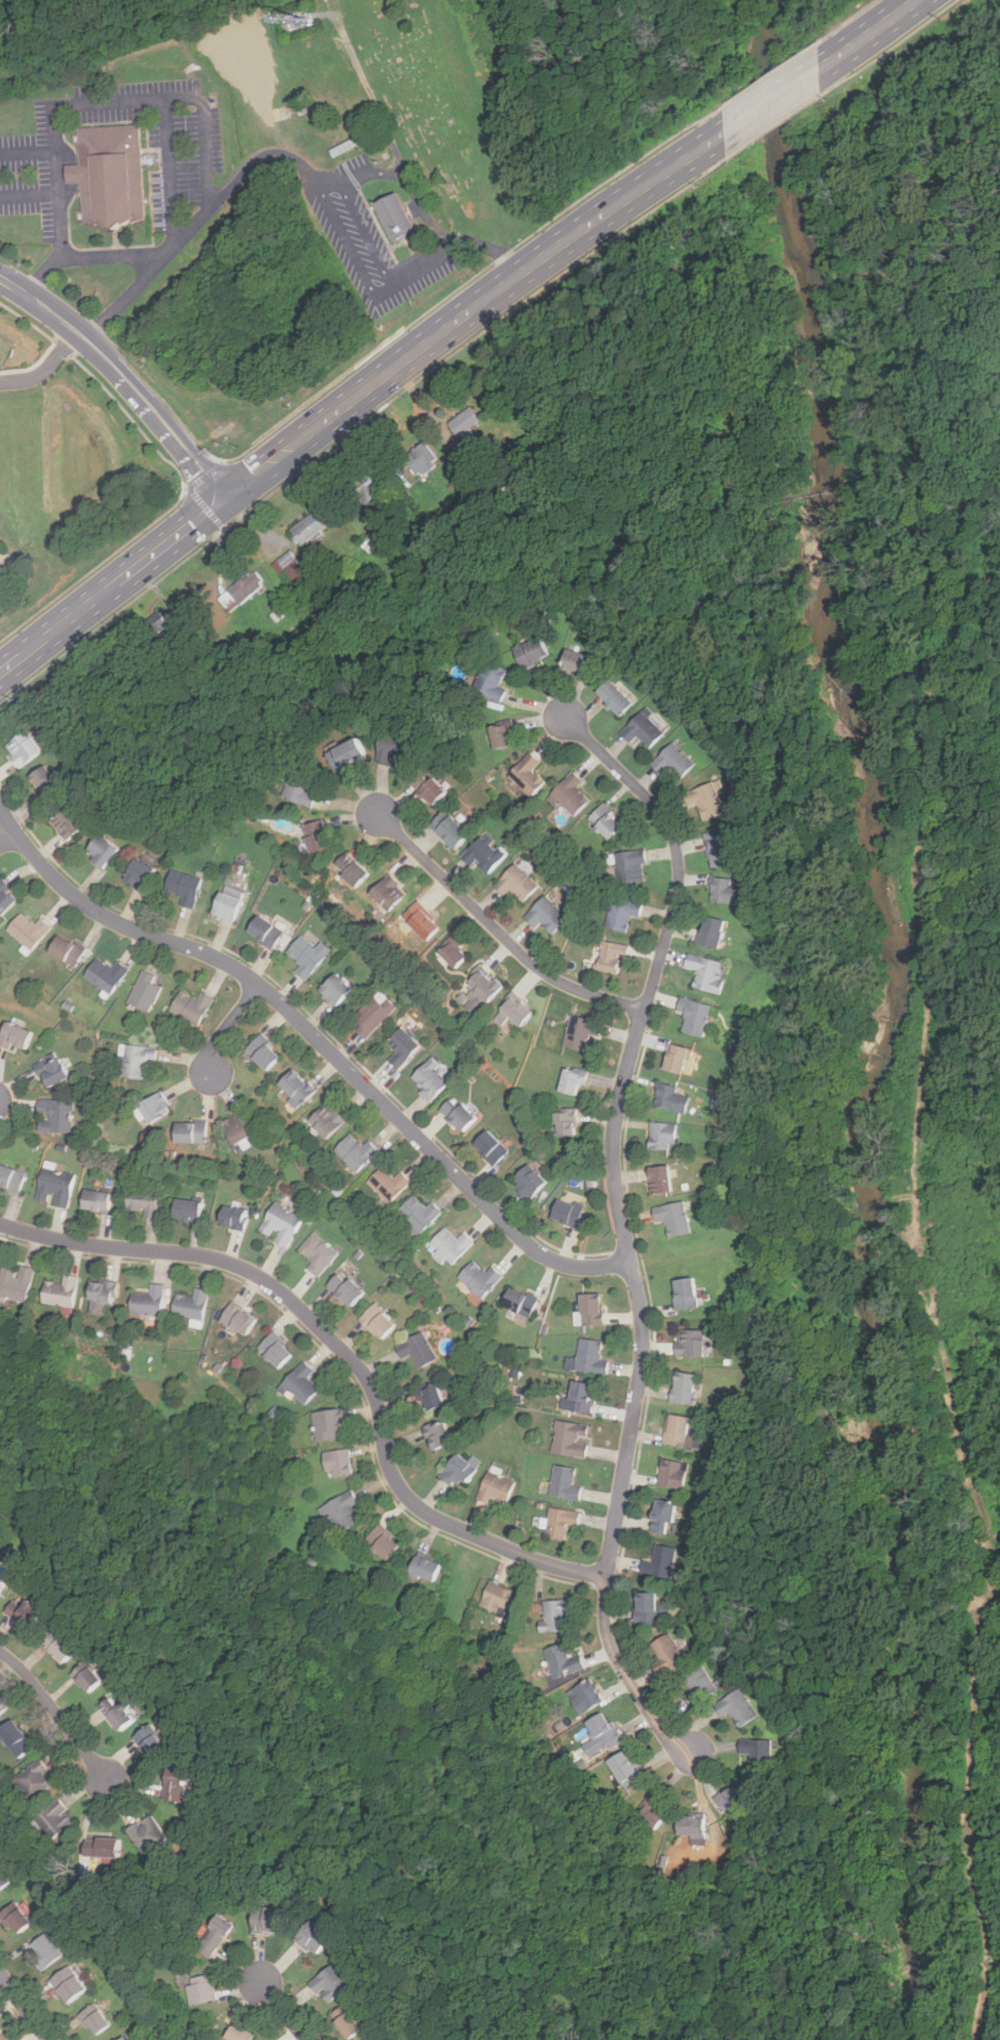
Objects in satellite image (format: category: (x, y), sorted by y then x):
road: (849, 20)
park: (825, 33)
road: (867, 35)
road: (889, 49)
road: (772, 73)
road: (164, 101)
road: (772, 102)
park: (442, 104)
road: (773, 127)
river: (776, 130)
road: (205, 138)
road: (30, 151)
parking lot: (192, 155)
road: (310, 171)
building: (116, 173)
road: (405, 173)
road: (31, 196)
road: (63, 204)
building: (403, 217)
road: (89, 255)
road: (461, 286)
road: (34, 296)
road: (27, 321)
road: (62, 347)
road: (43, 369)
road: (356, 395)
road: (154, 401)
road: (144, 410)
river: (822, 416)
building: (463, 424)
road: (359, 425)
building: (420, 459)
traffic signals: (198, 473)
traffic signals: (255, 474)
road: (205, 475)
building: (363, 489)
road: (204, 508)
road: (165, 512)
traffic signals: (192, 524)
building: (310, 526)
road: (224, 529)
building: (292, 567)
building: (241, 590)
building: (530, 651)
building: (575, 664)
building: (490, 681)
building: (614, 697)
building: (642, 729)
building: (500, 734)
building: (392, 747)
building: (22, 749)
building: (347, 755)
building: (673, 761)
building: (527, 774)
building: (46, 783)
building: (300, 786)
building: (427, 788)
building: (570, 794)
building: (706, 799)
building: (606, 821)
building: (67, 824)
building: (449, 829)
building: (316, 837)
road: (9, 839)
building: (718, 848)
building: (101, 850)
building: (485, 854)
building: (629, 865)
building: (350, 870)
building: (139, 875)
building: (516, 883)
building: (184, 887)
building: (725, 891)
building: (388, 893)
building: (7, 896)
building: (226, 907)
building: (621, 912)
building: (546, 914)
building: (421, 922)
road: (499, 929)
building: (28, 930)
building: (264, 930)
building: (710, 931)
building: (66, 949)
building: (453, 952)
building: (307, 955)
building: (611, 955)
building: (705, 972)
building: (106, 974)
building: (334, 989)
building: (144, 991)
building: (481, 991)
building: (191, 1006)
building: (513, 1011)
building: (372, 1015)
building: (694, 1016)
road: (227, 1026)
building: (579, 1032)
building: (15, 1036)
road: (318, 1038)
building: (402, 1047)
building: (263, 1052)
building: (676, 1058)
building: (136, 1060)
building: (52, 1072)
building: (430, 1079)
building: (572, 1081)
river: (868, 1084)
building: (296, 1088)
building: (670, 1098)
building: (155, 1107)
building: (457, 1114)
building: (55, 1116)
building: (326, 1120)
building: (565, 1122)
building: (238, 1128)
building: (190, 1131)
building: (662, 1136)
building: (490, 1147)
building: (355, 1152)
building: (11, 1179)
building: (659, 1180)
building: (528, 1181)
building: (388, 1184)
building: (55, 1186)
building: (144, 1200)
building: (96, 1201)
building: (186, 1210)
building: (419, 1213)
building: (566, 1213)
building: (233, 1218)
building: (672, 1218)
building: (281, 1225)
road: (623, 1227)
building: (449, 1245)
building: (318, 1253)
building: (480, 1279)
building: (16, 1283)
building: (344, 1289)
building: (61, 1292)
building: (684, 1294)
building: (101, 1295)
building: (149, 1301)
building: (519, 1302)
building: (191, 1305)
building: (591, 1309)
building: (238, 1318)
building: (377, 1322)
building: (690, 1343)
building: (275, 1350)
road: (344, 1350)
building: (417, 1350)
building: (590, 1358)
building: (301, 1384)
building: (683, 1389)
building: (432, 1398)
building: (580, 1398)
building: (329, 1426)
building: (676, 1430)
building: (437, 1436)
building: (570, 1440)
building: (338, 1464)
building: (456, 1472)
building: (671, 1474)
building: (564, 1483)
building: (495, 1488)
building: (341, 1512)
building: (662, 1517)
building: (560, 1523)
building: (381, 1543)
building: (659, 1563)
building: (424, 1569)
building: (1, 1585)
building: (496, 1597)
building: (646, 1609)
building: (24, 1613)
building: (555, 1616)
building: (58, 1648)
building: (667, 1654)
building: (563, 1662)
building: (86, 1678)
building: (700, 1685)
building: (584, 1697)
building: (2, 1706)
building: (737, 1708)
road: (58, 1712)
building: (117, 1713)
building: (99, 1715)
building: (604, 1731)
building: (14, 1739)
building: (150, 1742)
building: (757, 1753)
building: (626, 1769)
building: (34, 1780)
building: (173, 1789)
building: (732, 1797)
building: (651, 1814)
building: (55, 1819)
river: (919, 1821)
building: (690, 1826)
building: (147, 1834)
building: (104, 1848)
building: (3, 1879)
building: (15, 1918)
building: (268, 1921)
building: (214, 1936)
building: (312, 1939)
building: (46, 1950)
building: (69, 1983)
building: (329, 1984)
building: (200, 1989)
road: (25, 2006)
road: (281, 2012)
building: (93, 2020)
building: (348, 2025)
building: (238, 2033)
building: (0, 2034)
building: (0, 2039)
building: (124, 2039)
building: (368, 2039)

